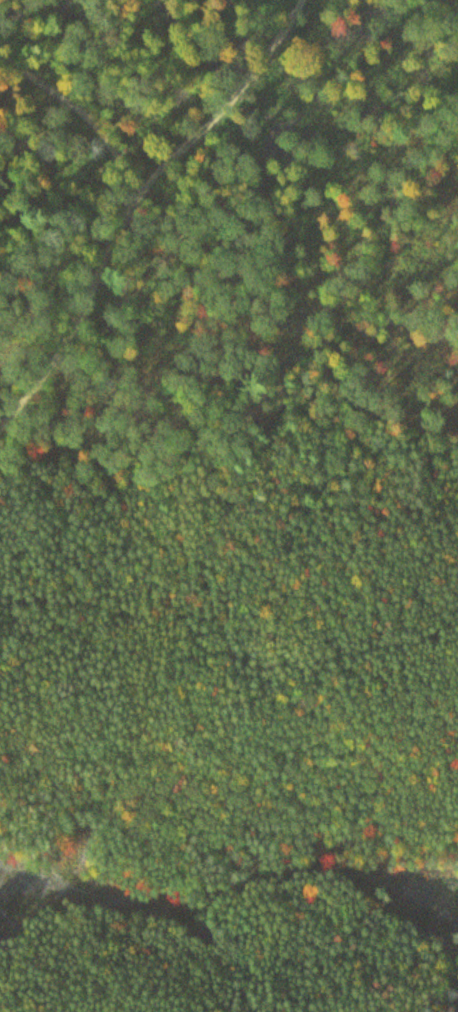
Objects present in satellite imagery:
road: (77, 115)
road: (130, 203)

